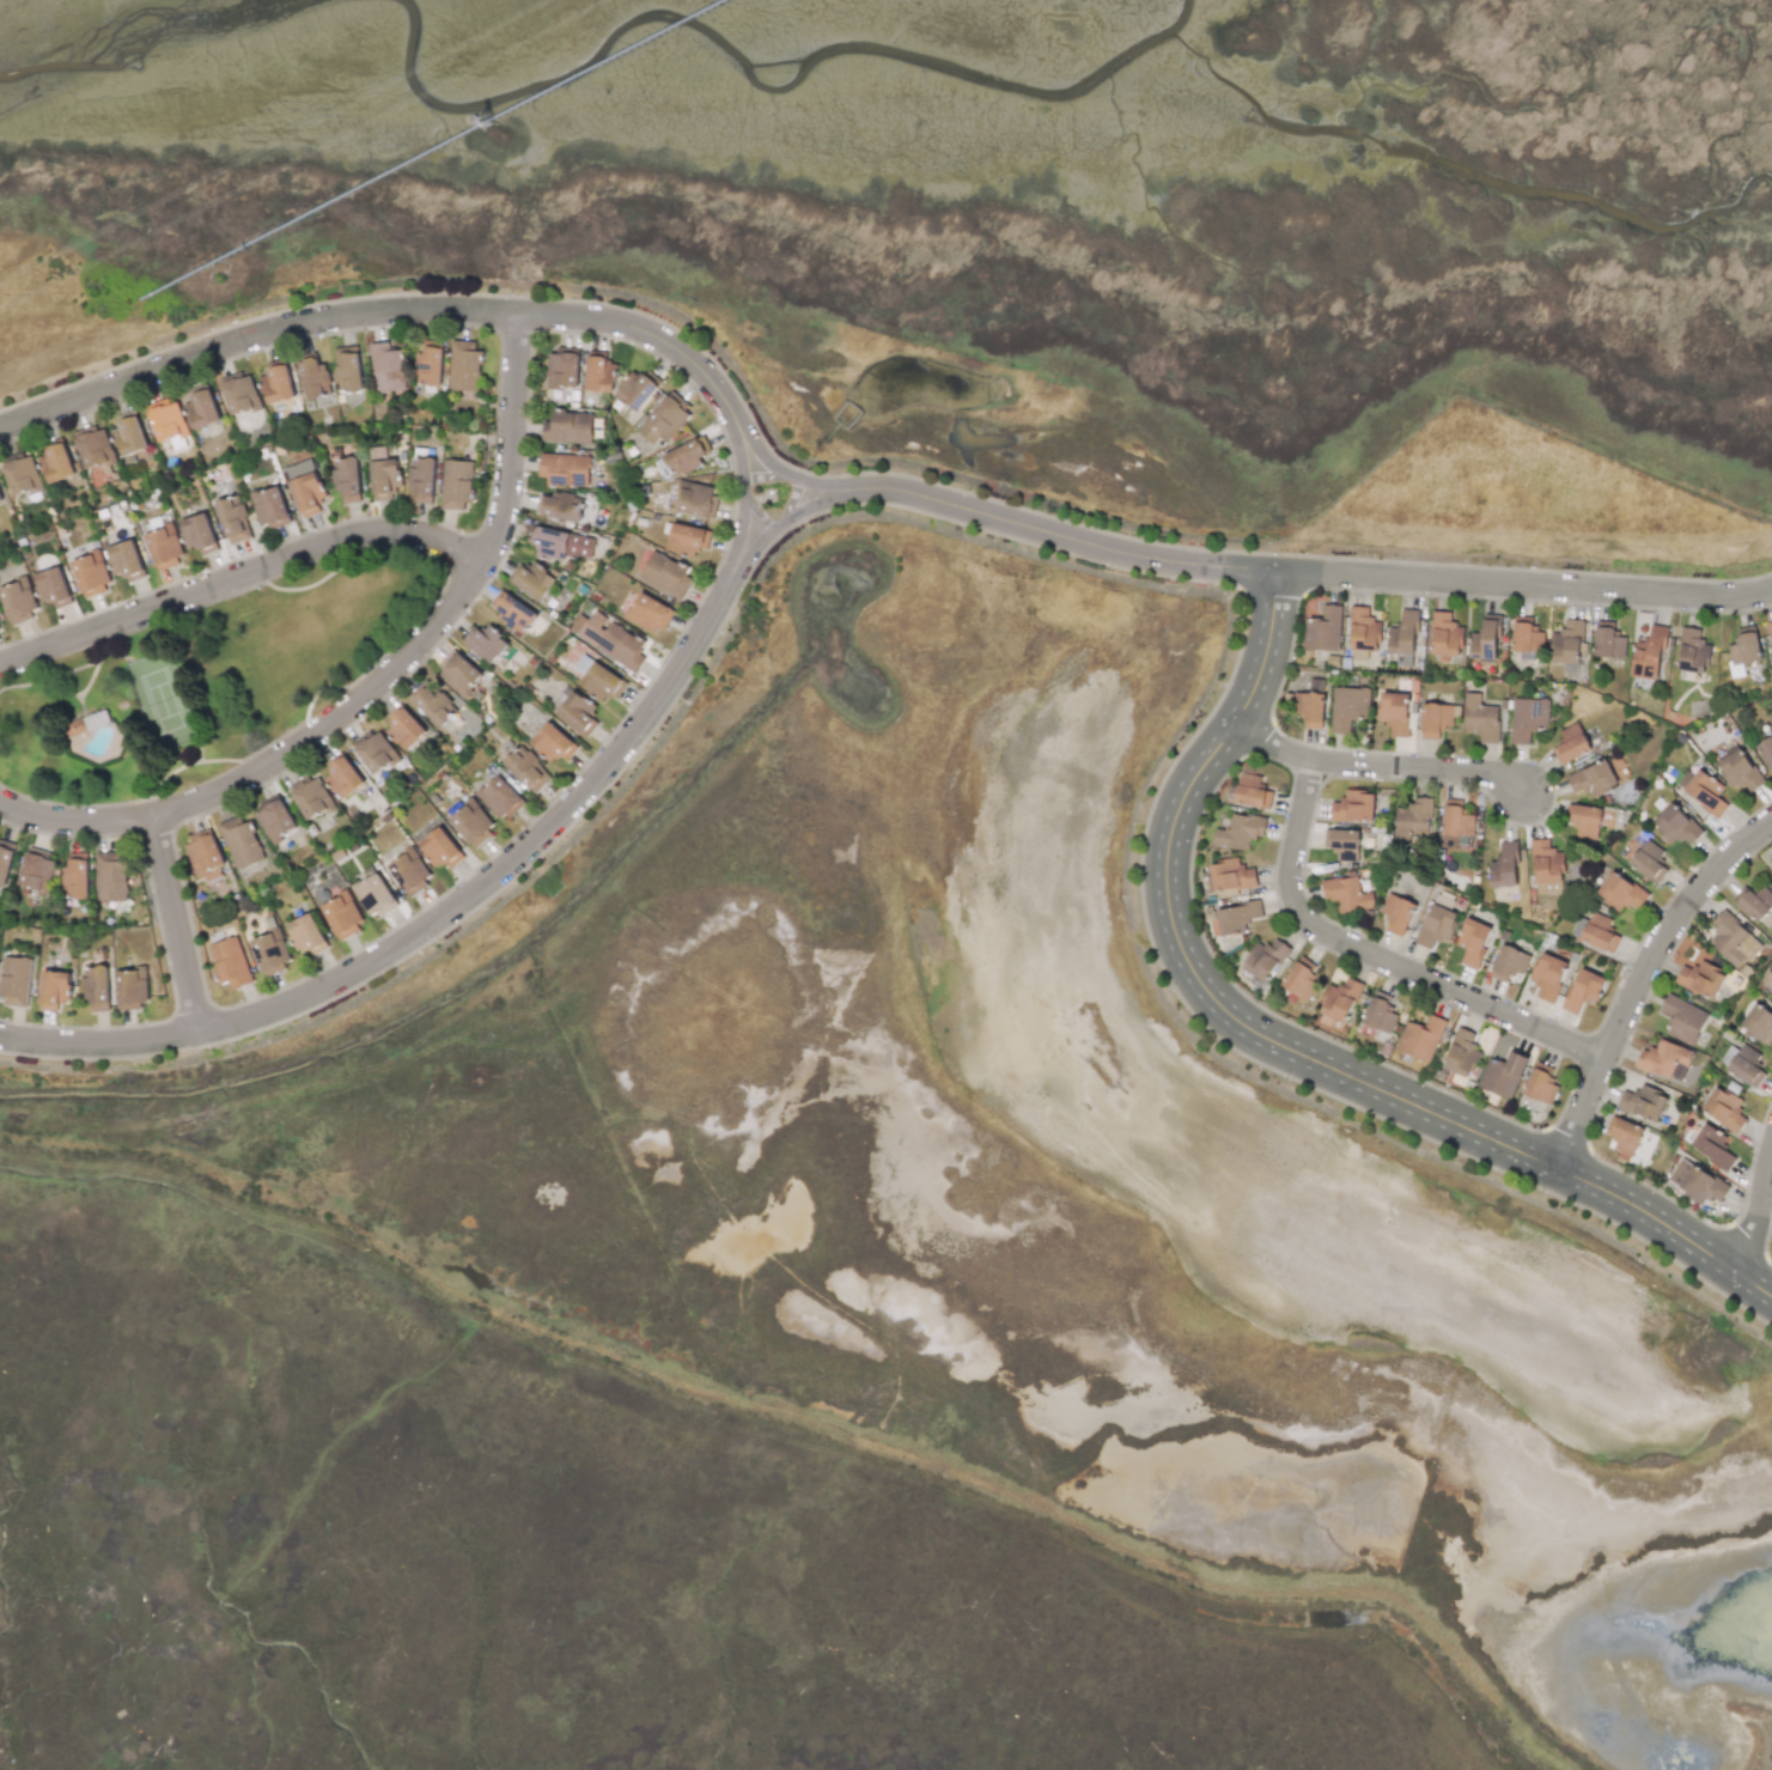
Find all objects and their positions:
power tower: (486, 121)
road: (371, 312)
building: (464, 365)
building: (430, 366)
building: (386, 369)
building: (347, 370)
building: (562, 370)
building: (599, 375)
building: (313, 377)
building: (278, 384)
building: (637, 390)
building: (240, 395)
building: (201, 410)
building: (663, 420)
building: (168, 421)
building: (567, 427)
building: (242, 428)
building: (128, 434)
road: (509, 434)
building: (93, 448)
building: (686, 457)
building: (57, 461)
building: (662, 467)
building: (565, 469)
road: (787, 469)
building: (22, 475)
building: (384, 479)
building: (346, 480)
building: (421, 480)
road: (765, 480)
building: (456, 483)
road: (743, 486)
building: (305, 487)
building: (0, 498)
building: (695, 499)
building: (558, 506)
building: (270, 509)
road: (794, 516)
building: (199, 534)
road: (1070, 535)
building: (687, 540)
building: (164, 547)
building: (126, 560)
building: (91, 573)
building: (665, 574)
road: (239, 578)
building: (531, 579)
road: (1522, 583)
building: (53, 586)
building: (18, 601)
building: (512, 610)
building: (650, 613)
building: (1770, 628)
building: (1323, 629)
building: (1363, 633)
building: (1403, 634)
building: (1445, 634)
building: (1527, 638)
building: (609, 639)
building: (1484, 640)
building: (485, 643)
building: (1567, 643)
building: (1608, 643)
building: (1650, 651)
building: (1692, 651)
building: (1743, 651)
building: (458, 671)
building: (598, 679)
park: (206, 683)
park: (168, 702)
building: (431, 702)
building: (1311, 704)
building: (1347, 707)
building: (578, 712)
building: (1393, 712)
building: (1480, 718)
building: (1528, 718)
building: (1437, 719)
building: (403, 726)
building: (553, 743)
building: (1570, 743)
building: (375, 750)
building: (1766, 750)
road: (274, 756)
road: (1377, 764)
building: (526, 768)
building: (1737, 768)
building: (342, 775)
building: (1593, 779)
building: (1252, 789)
building: (1701, 790)
building: (311, 797)
building: (499, 797)
building: (1353, 807)
building: (274, 819)
building: (1412, 820)
building: (1584, 820)
building: (473, 823)
building: (1675, 825)
building: (1457, 826)
building: (1240, 831)
building: (240, 843)
building: (1342, 844)
building: (439, 848)
building: (203, 854)
building: (5, 860)
building: (1649, 862)
building: (1505, 865)
building: (1547, 868)
building: (36, 871)
building: (410, 874)
building: (111, 876)
building: (1229, 876)
building: (74, 877)
building: (1346, 893)
building: (1620, 893)
building: (375, 896)
building: (1754, 901)
building: (1397, 913)
road: (434, 914)
building: (342, 916)
building: (1236, 917)
road: (176, 920)
building: (1437, 925)
building: (1600, 932)
building: (306, 933)
building: (1733, 939)
building: (1473, 942)
building: (270, 950)
road: (1380, 955)
building: (1265, 960)
building: (230, 962)
building: (1510, 962)
building: (1547, 975)
road: (1642, 978)
building: (1701, 979)
building: (14, 980)
building: (1299, 981)
building: (96, 987)
building: (54, 989)
building: (132, 989)
building: (1584, 990)
building: (1771, 996)
building: (1771, 997)
building: (1340, 1000)
building: (1378, 1015)
building: (1682, 1018)
building: (1759, 1023)
building: (1420, 1038)
road: (1284, 1044)
building: (1461, 1053)
building: (1664, 1059)
building: (1743, 1064)
building: (1502, 1075)
building: (1541, 1087)
building: (1643, 1102)
building: (1724, 1109)
building: (1624, 1137)
building: (1712, 1146)
building: (1698, 1181)
road: (1758, 1214)

